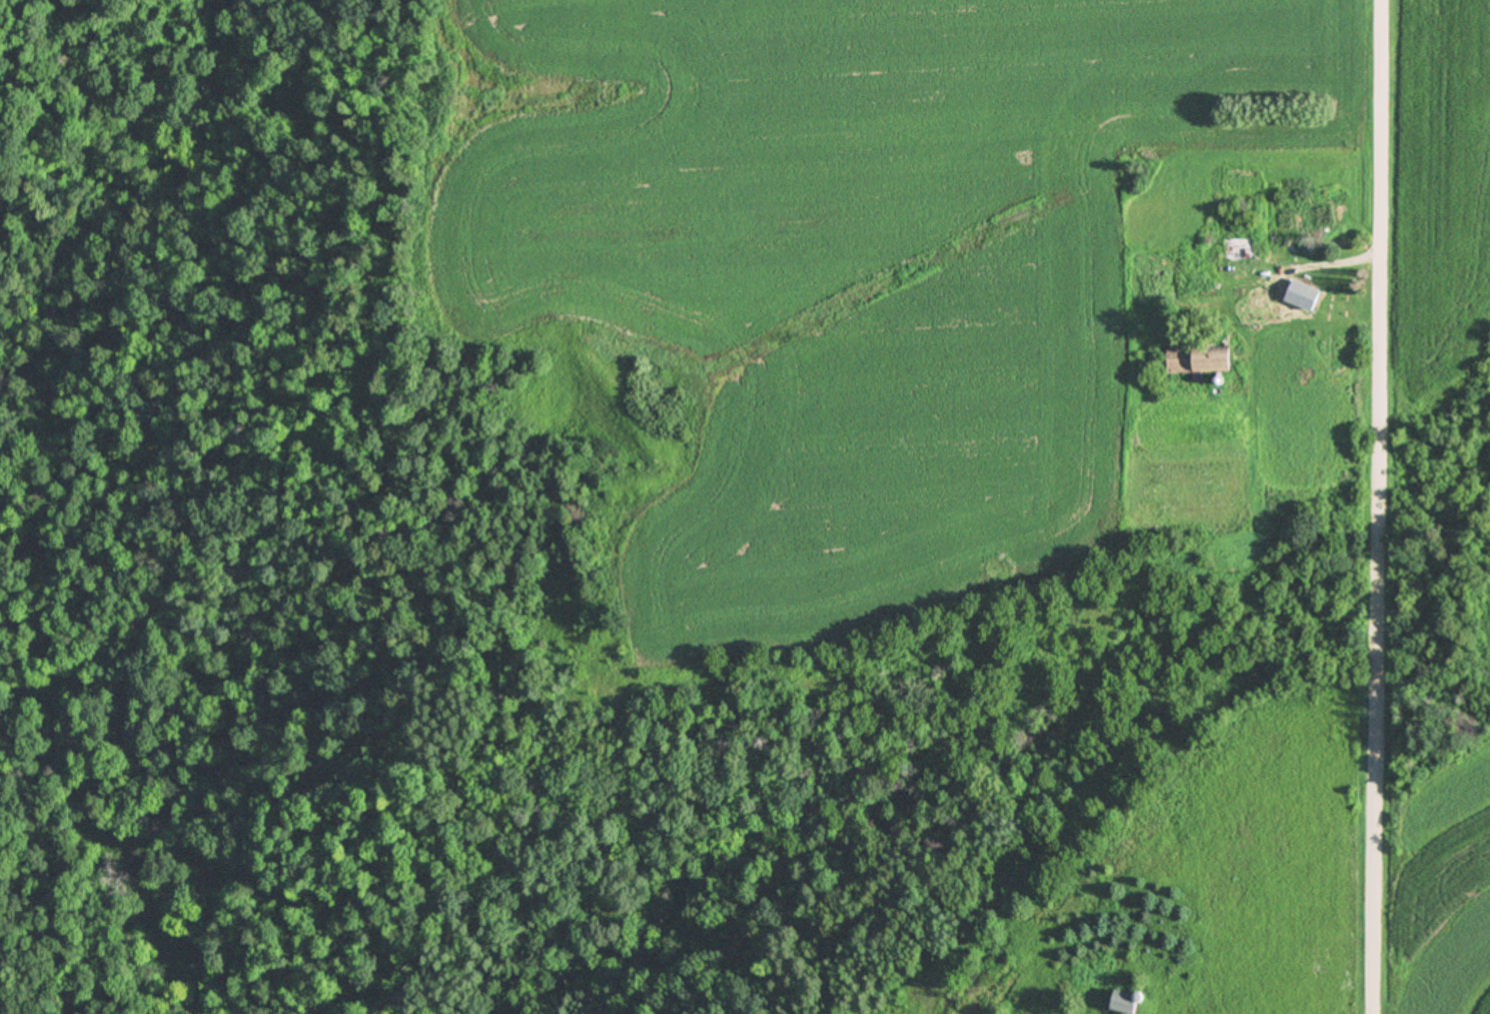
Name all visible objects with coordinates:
building: (1295, 165)
building: (1242, 248)
building: (1139, 280)
building: (1204, 283)
building: (1306, 294)
building: (1203, 357)
road: (1385, 507)
building: (1128, 1000)

